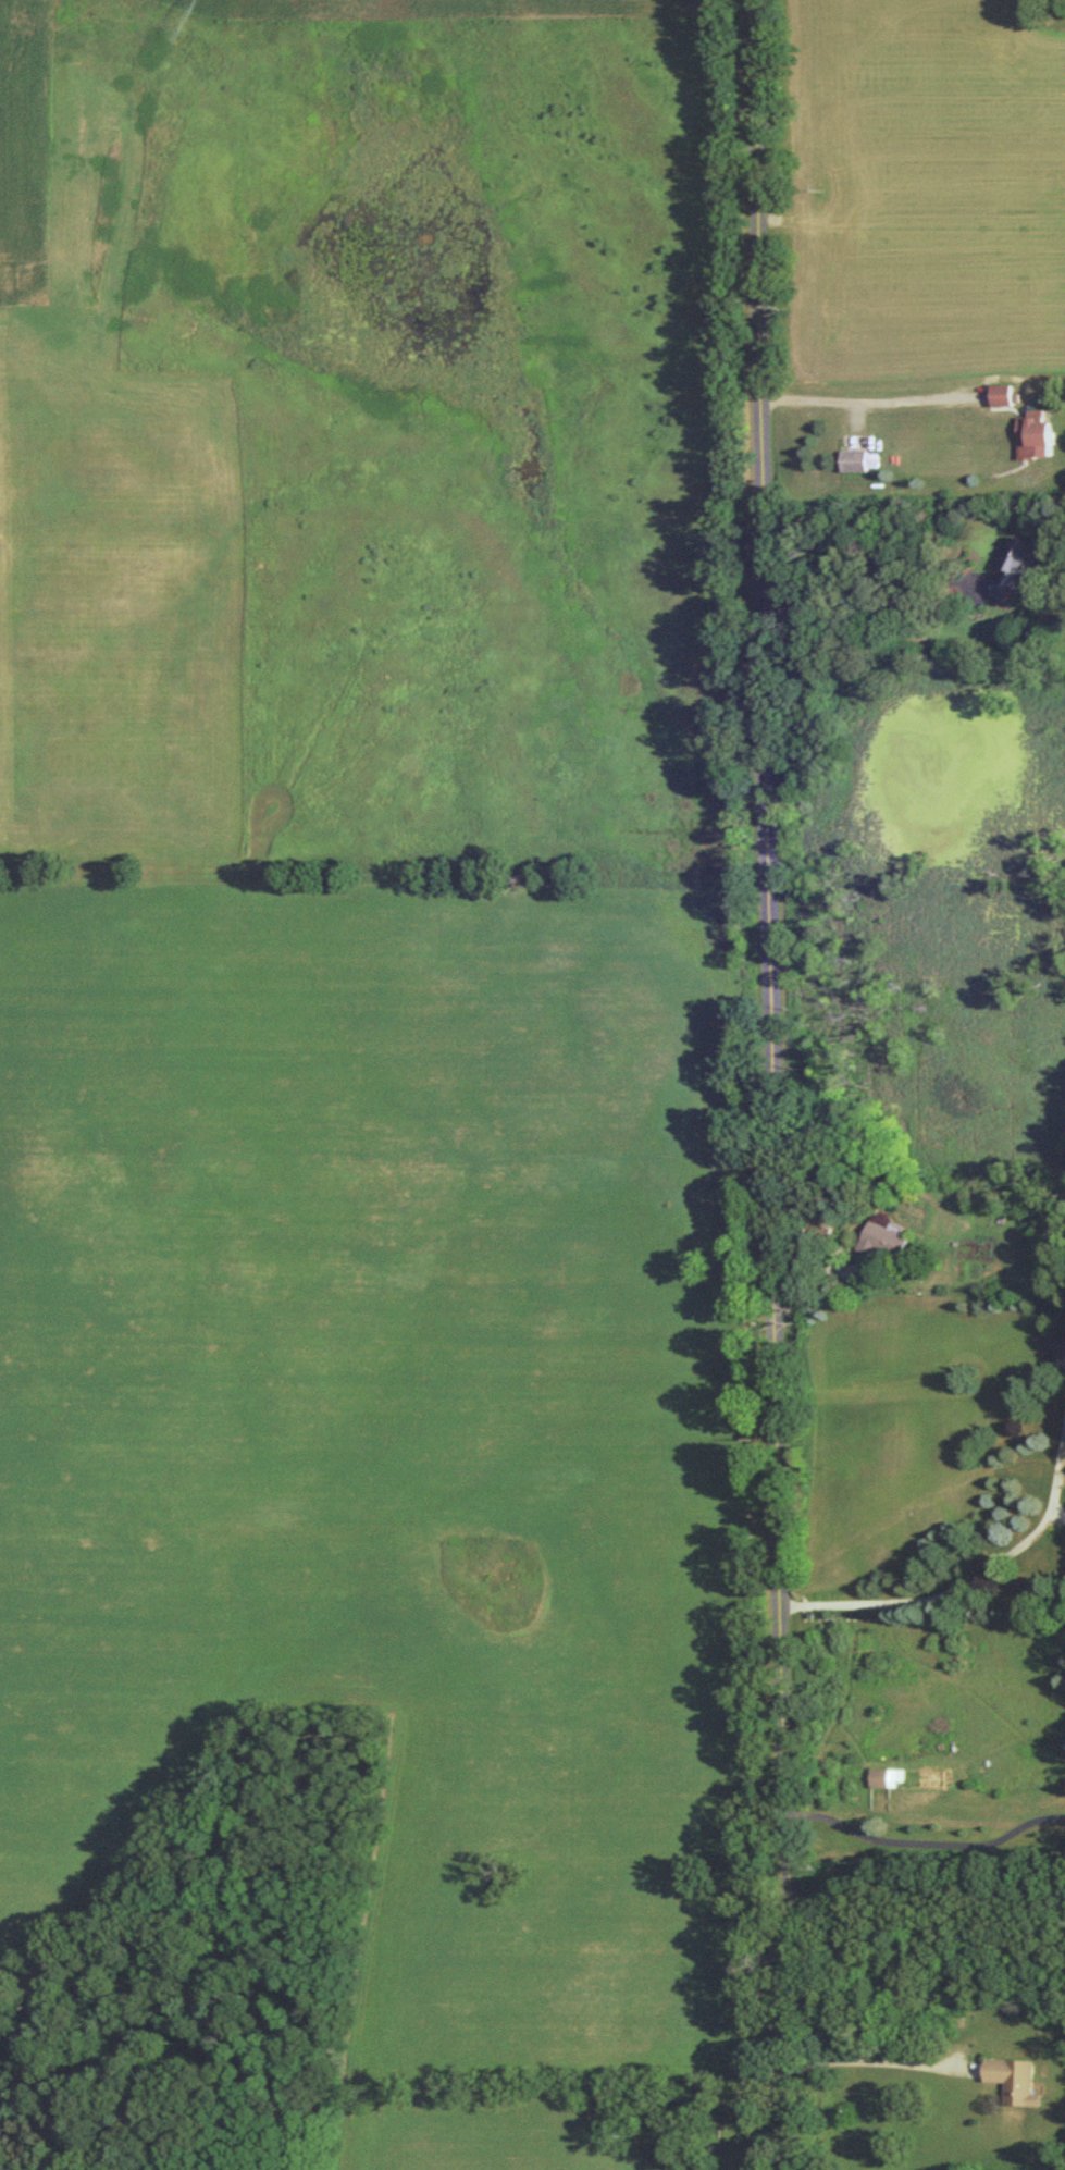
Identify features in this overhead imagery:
crop: (455, 11)
crop: (25, 152)
building: (1004, 393)
road: (876, 400)
building: (1016, 566)
crop: (114, 605)
road: (862, 606)
road: (781, 1084)
building: (887, 1240)
road: (968, 1581)
building: (884, 1776)
road: (929, 1842)
road: (886, 2062)
building: (1016, 2079)

